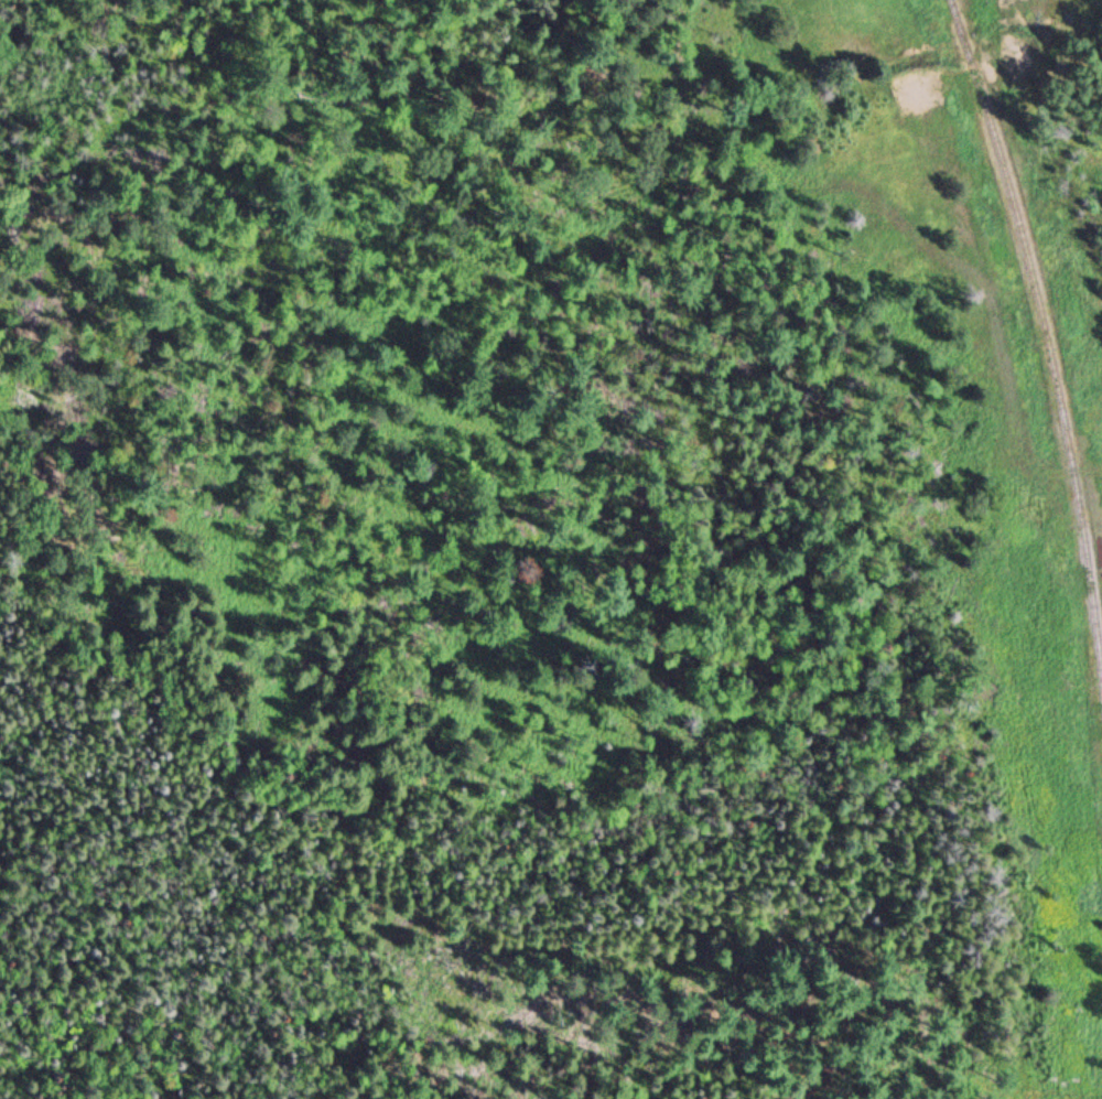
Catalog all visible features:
railway: (1042, 327)

